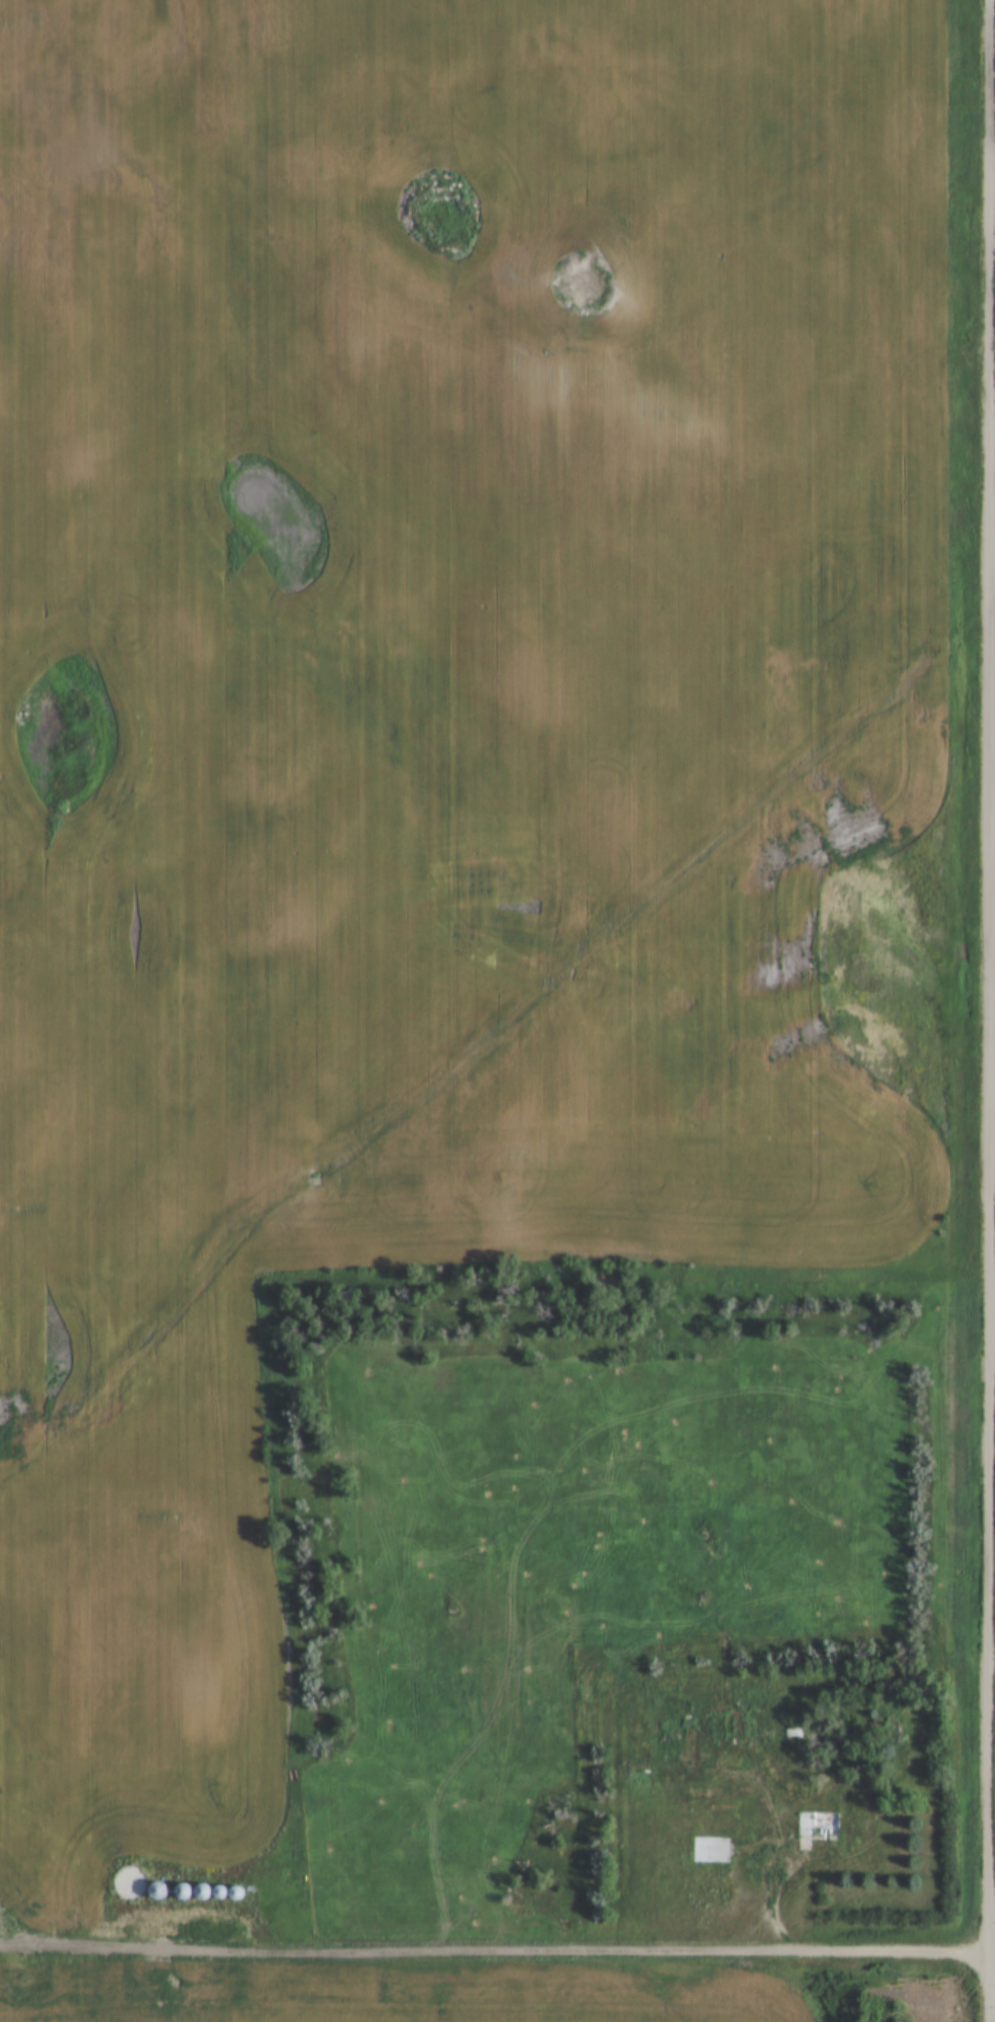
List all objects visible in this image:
road: (992, 1011)
building: (718, 1728)
building: (770, 1734)
building: (797, 1734)
building: (644, 1769)
building: (821, 1824)
building: (714, 1850)
building: (128, 1884)
silo: (128, 1884)
building: (158, 1893)
silo: (158, 1893)
building: (183, 1894)
silo: (183, 1894)
building: (202, 1894)
silo: (202, 1894)
building: (220, 1894)
silo: (220, 1894)
building: (236, 1895)
silo: (236, 1895)
road: (770, 1901)
road: (398, 1950)
road: (894, 1952)
road: (993, 1954)
building: (890, 1995)

